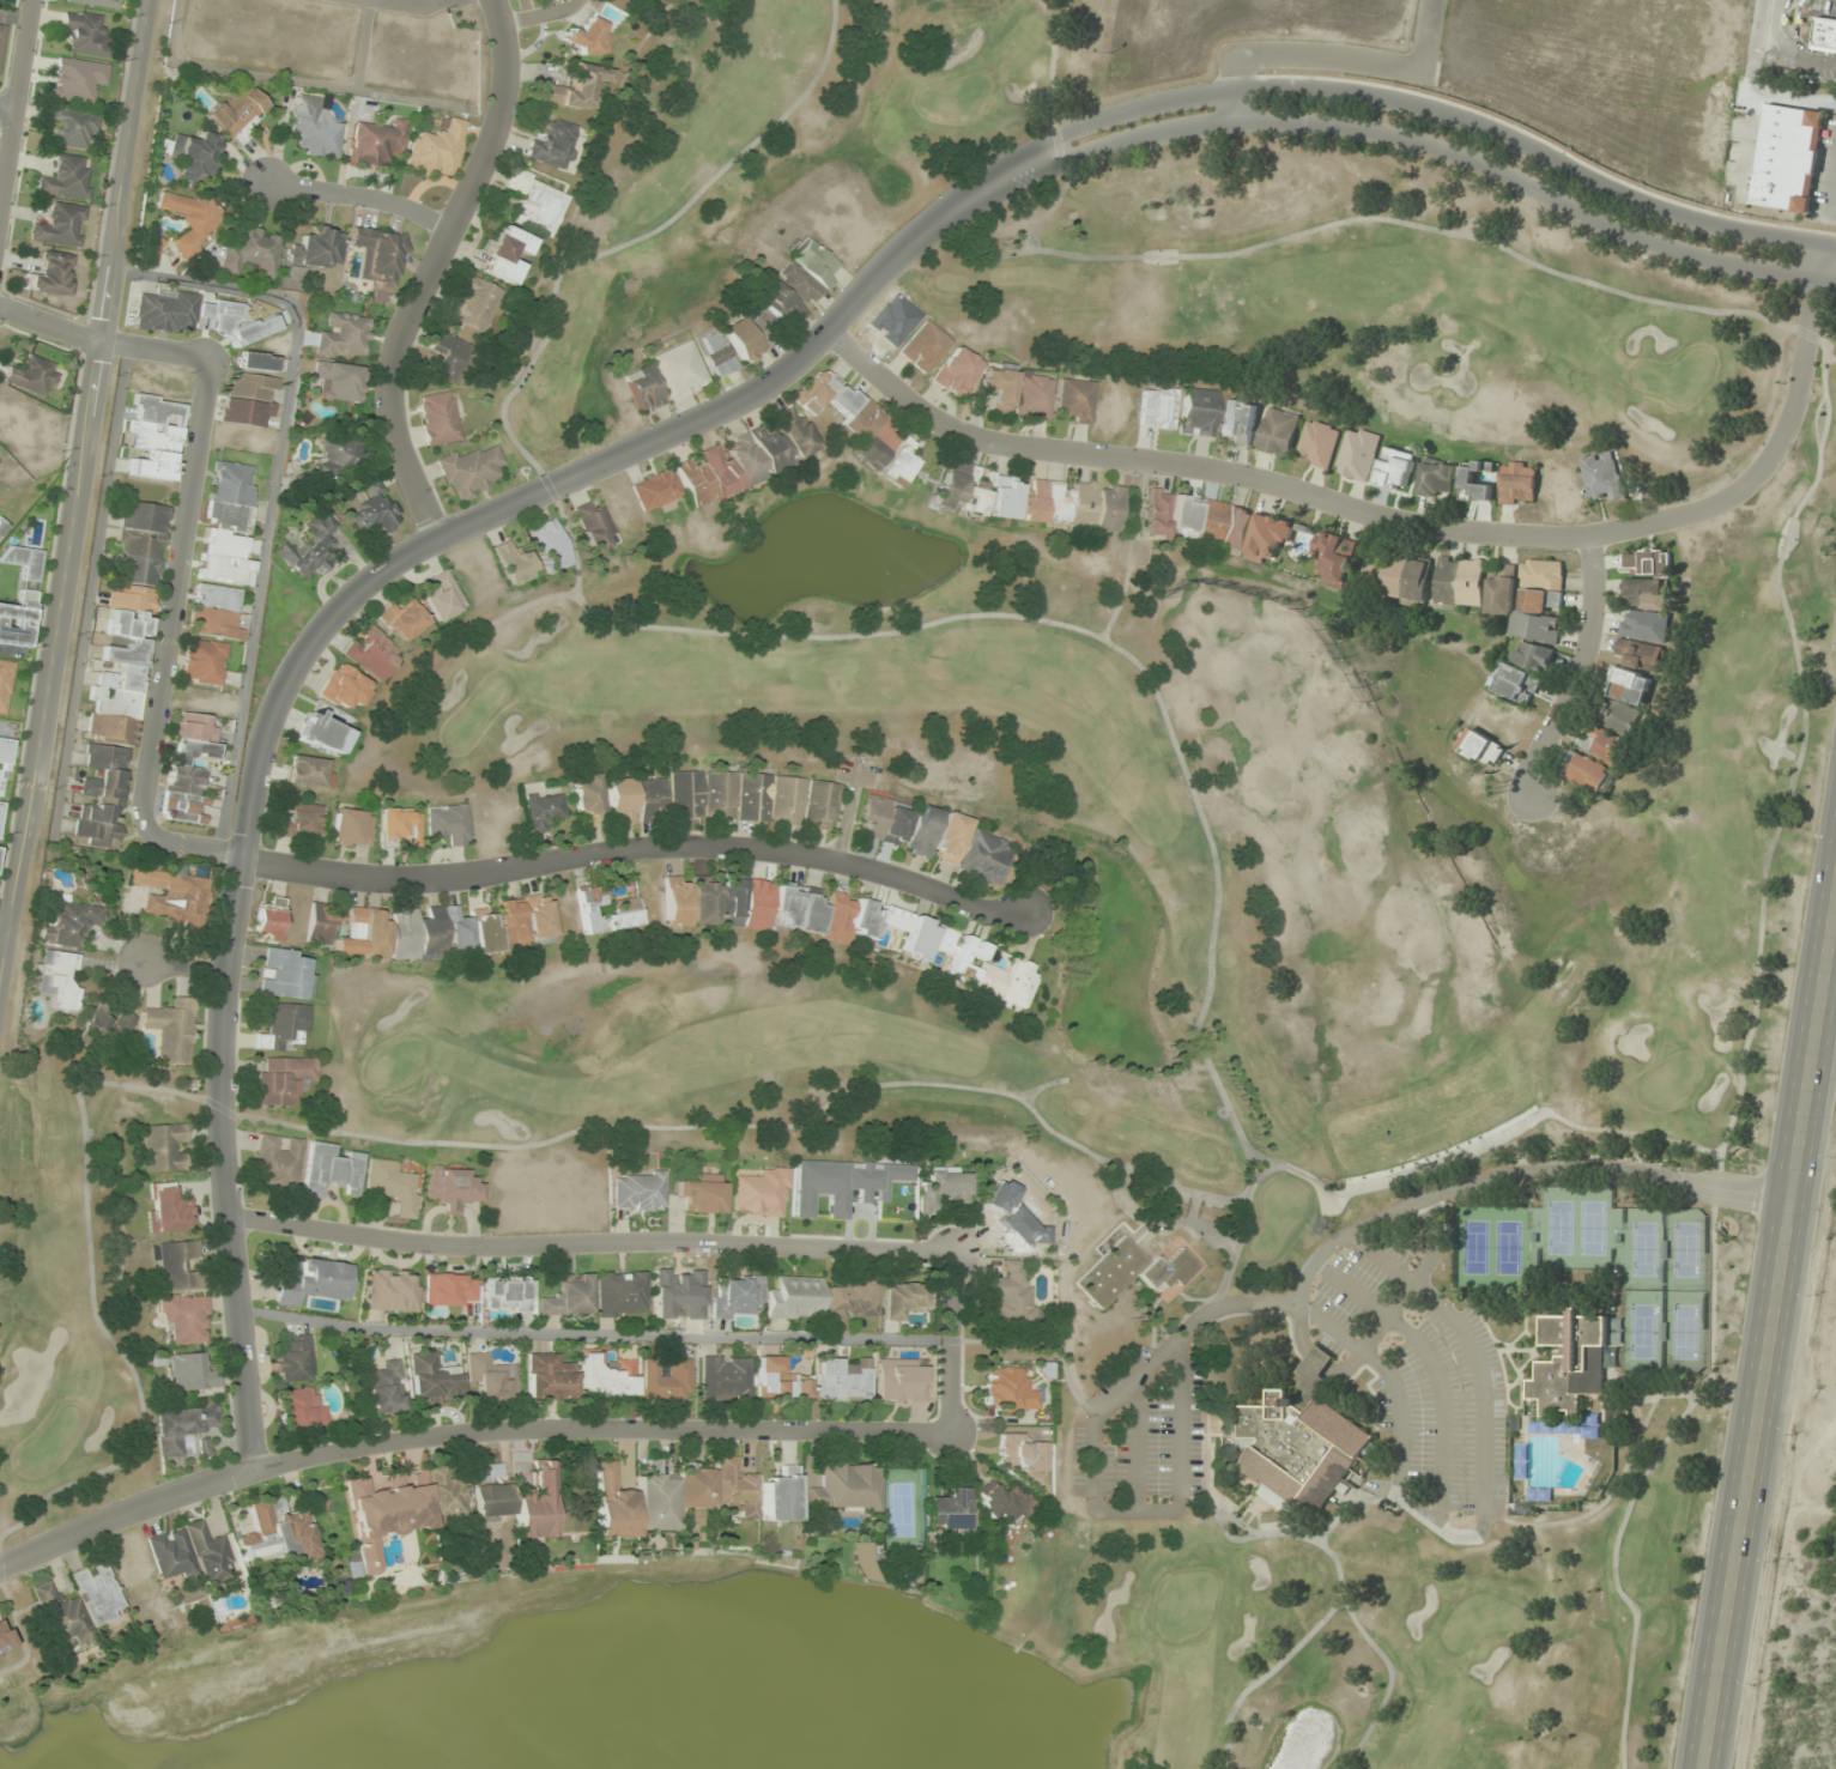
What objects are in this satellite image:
building: (98, 2)
road: (405, 4)
road: (540, 16)
building: (86, 32)
building: (1824, 34)
building: (1, 38)
building: (586, 38)
road: (362, 43)
road: (1332, 60)
building: (78, 78)
building: (575, 87)
road: (14, 102)
road: (7, 105)
building: (240, 111)
building: (73, 126)
building: (315, 127)
building: (376, 143)
building: (553, 144)
building: (437, 149)
building: (194, 155)
road: (1035, 156)
building: (1788, 158)
building: (66, 177)
road: (363, 200)
building: (537, 204)
building: (189, 219)
building: (61, 225)
building: (317, 248)
building: (253, 253)
building: (378, 254)
building: (507, 254)
road: (432, 267)
building: (808, 272)
building: (51, 274)
building: (475, 304)
building: (198, 316)
building: (763, 321)
building: (344, 337)
building: (925, 346)
building: (715, 353)
building: (450, 357)
building: (679, 369)
building: (956, 370)
building: (34, 375)
building: (339, 381)
building: (996, 387)
building: (643, 388)
building: (1034, 396)
building: (248, 400)
building: (1075, 400)
building: (1157, 407)
building: (158, 410)
building: (1198, 412)
building: (438, 418)
building: (1238, 423)
building: (862, 426)
building: (1278, 431)
building: (1319, 443)
building: (341, 452)
building: (1358, 454)
building: (747, 458)
building: (145, 462)
building: (1395, 468)
building: (471, 472)
building: (1602, 475)
building: (1476, 479)
building: (1436, 480)
building: (1517, 483)
building: (656, 489)
road: (74, 492)
building: (230, 496)
building: (1017, 497)
building: (1110, 508)
building: (374, 513)
road: (1392, 522)
building: (1216, 523)
building: (2, 526)
building: (595, 527)
building: (551, 545)
building: (311, 549)
building: (1334, 558)
building: (514, 562)
building: (1406, 578)
building: (1647, 578)
building: (1460, 582)
building: (443, 596)
building: (19, 598)
building: (1529, 599)
building: (214, 612)
building: (402, 619)
building: (126, 625)
road: (320, 628)
building: (1643, 641)
building: (371, 653)
building: (1533, 656)
building: (202, 661)
road: (1580, 668)
building: (5, 684)
building: (1515, 684)
building: (1629, 685)
building: (344, 687)
building: (1617, 717)
building: (320, 729)
building: (1601, 745)
building: (1479, 749)
building: (189, 768)
building: (309, 771)
building: (1586, 773)
building: (102, 795)
building: (685, 795)
building: (588, 799)
building: (650, 800)
building: (620, 801)
building: (820, 805)
building: (543, 810)
road: (847, 813)
building: (885, 819)
building: (299, 820)
building: (448, 823)
building: (400, 825)
building: (351, 826)
building: (922, 831)
building: (950, 838)
building: (984, 856)
road: (249, 859)
building: (174, 893)
building: (675, 901)
building: (781, 908)
building: (625, 909)
building: (539, 919)
building: (68, 920)
building: (511, 921)
building: (267, 922)
road: (4, 929)
building: (404, 932)
road: (186, 964)
building: (980, 968)
building: (285, 974)
building: (59, 980)
building: (113, 1024)
building: (284, 1026)
building: (172, 1029)
building: (283, 1079)
building: (163, 1147)
building: (278, 1159)
building: (329, 1169)
building: (392, 1186)
building: (941, 1188)
building: (453, 1189)
building: (638, 1192)
building: (761, 1193)
building: (701, 1194)
building: (168, 1208)
road: (677, 1242)
building: (176, 1265)
building: (1131, 1272)
building: (313, 1282)
building: (449, 1288)
building: (389, 1291)
building: (620, 1292)
building: (505, 1294)
building: (1008, 1295)
building: (568, 1296)
building: (737, 1297)
building: (793, 1298)
building: (849, 1300)
building: (899, 1300)
building: (183, 1317)
road: (1774, 1334)
building: (292, 1359)
building: (1574, 1359)
building: (187, 1373)
building: (606, 1376)
building: (490, 1377)
building: (547, 1377)
building: (723, 1377)
building: (666, 1379)
building: (778, 1379)
building: (842, 1379)
building: (432, 1380)
building: (898, 1381)
building: (384, 1387)
building: (1008, 1391)
building: (299, 1407)
building: (181, 1426)
road: (463, 1430)
building: (1302, 1443)
building: (1020, 1458)
building: (844, 1486)
building: (491, 1492)
building: (695, 1494)
building: (780, 1495)
building: (535, 1503)
building: (612, 1503)
building: (1000, 1503)
building: (947, 1510)
building: (396, 1513)
building: (274, 1533)
building: (207, 1552)
building: (170, 1553)
building: (78, 1605)
building: (4, 1638)

